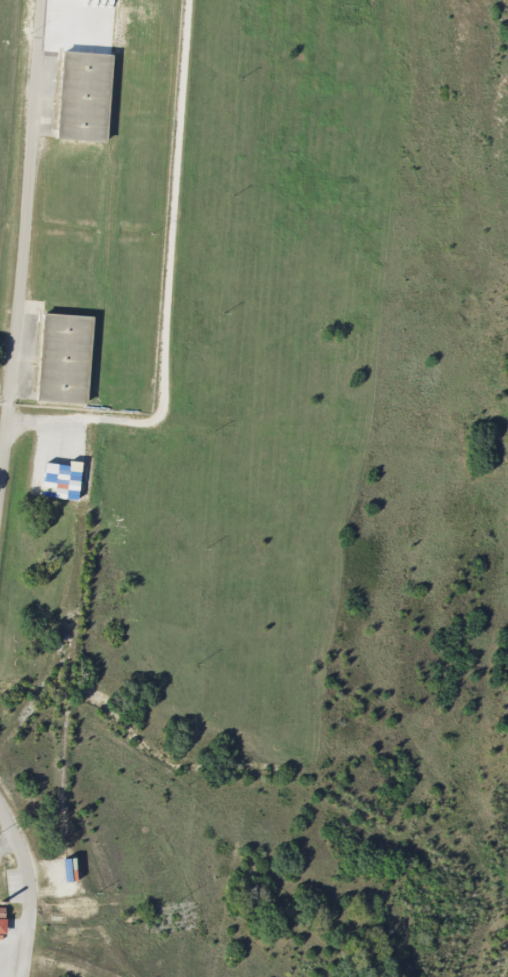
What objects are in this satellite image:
building: (82, 95)
road: (27, 228)
road: (169, 286)
building: (62, 358)
building: (38, 469)
building: (67, 480)
road: (30, 889)
building: (2, 919)

